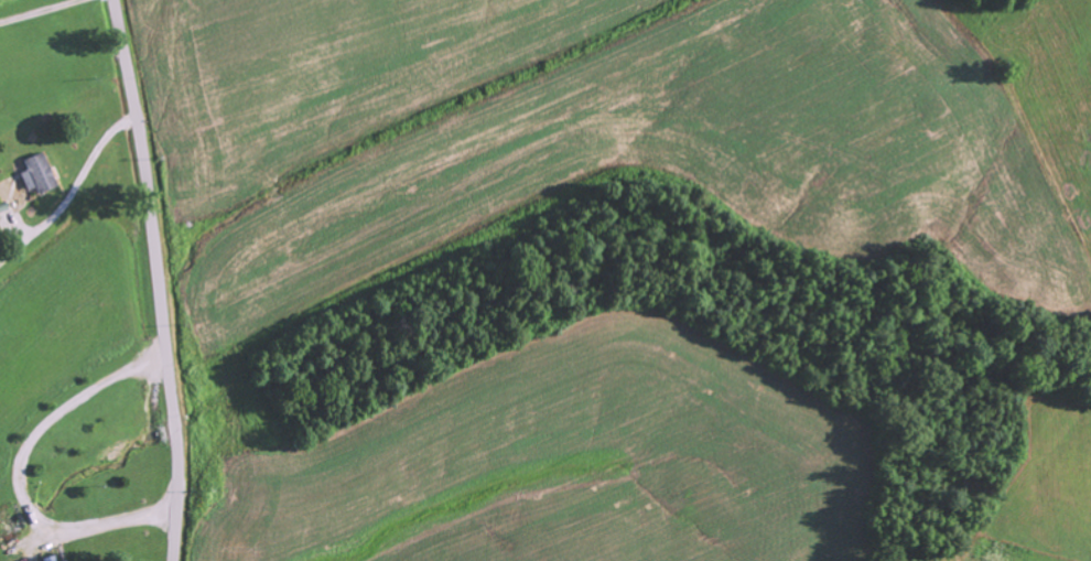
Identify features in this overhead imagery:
building: (37, 172)
road: (74, 198)
road: (159, 279)
building: (48, 558)
building: (63, 560)

